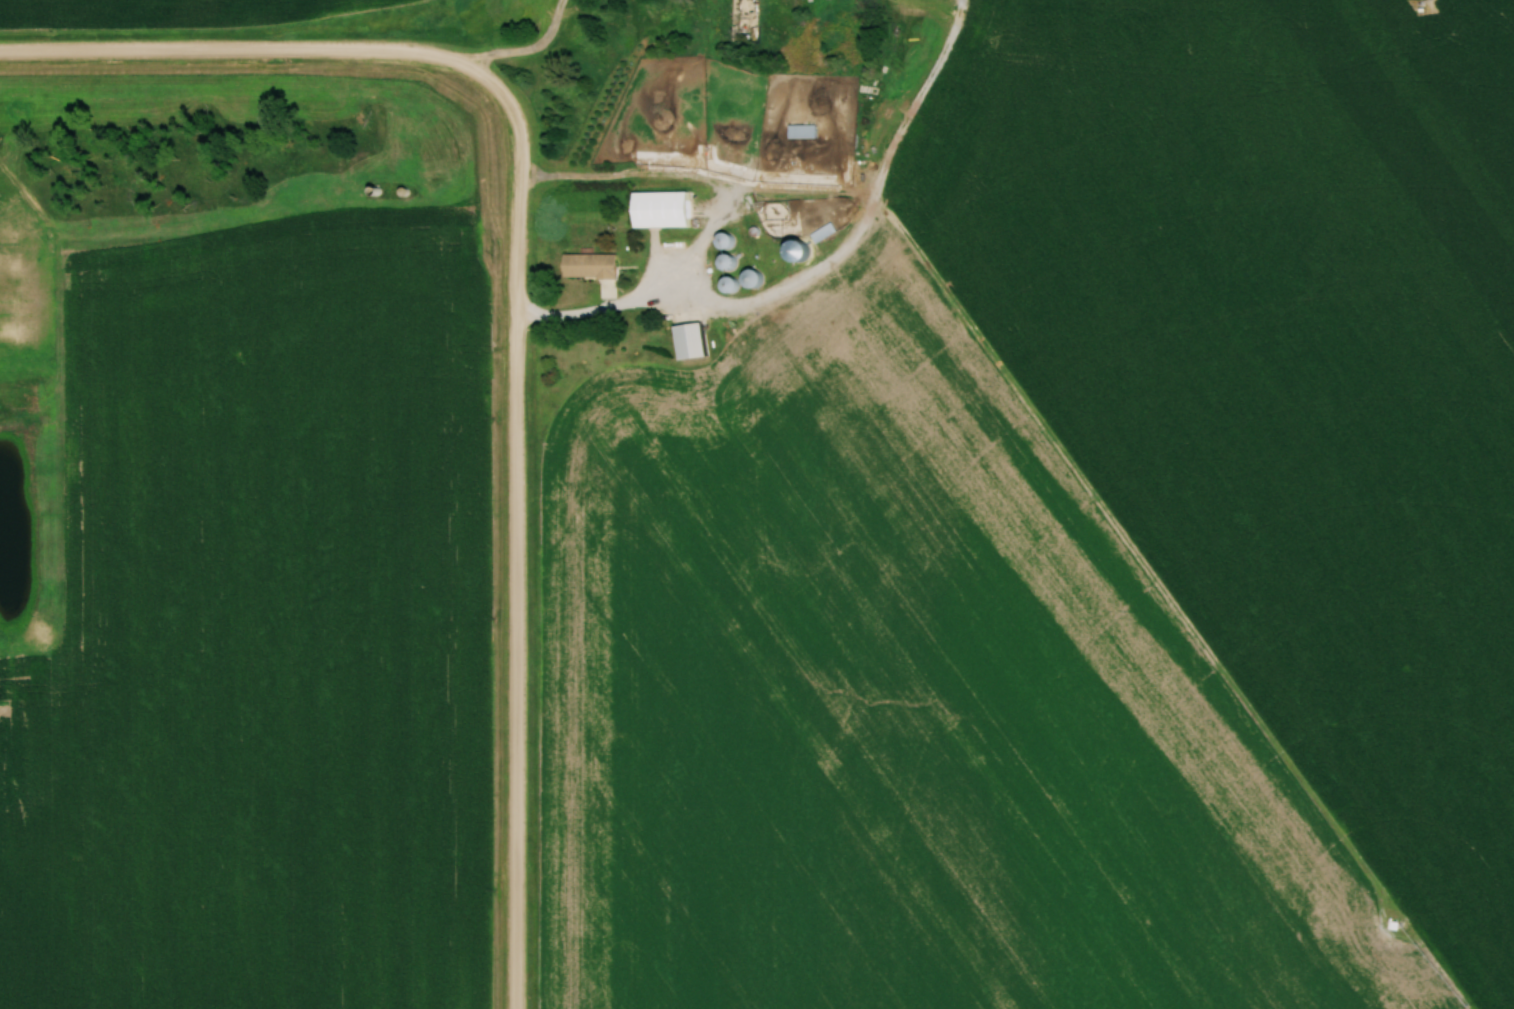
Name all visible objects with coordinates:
road: (527, 46)
road: (237, 47)
building: (801, 130)
building: (660, 210)
building: (723, 240)
building: (795, 251)
building: (726, 262)
building: (588, 266)
road: (820, 271)
building: (750, 278)
building: (727, 285)
building: (688, 341)
road: (518, 528)

